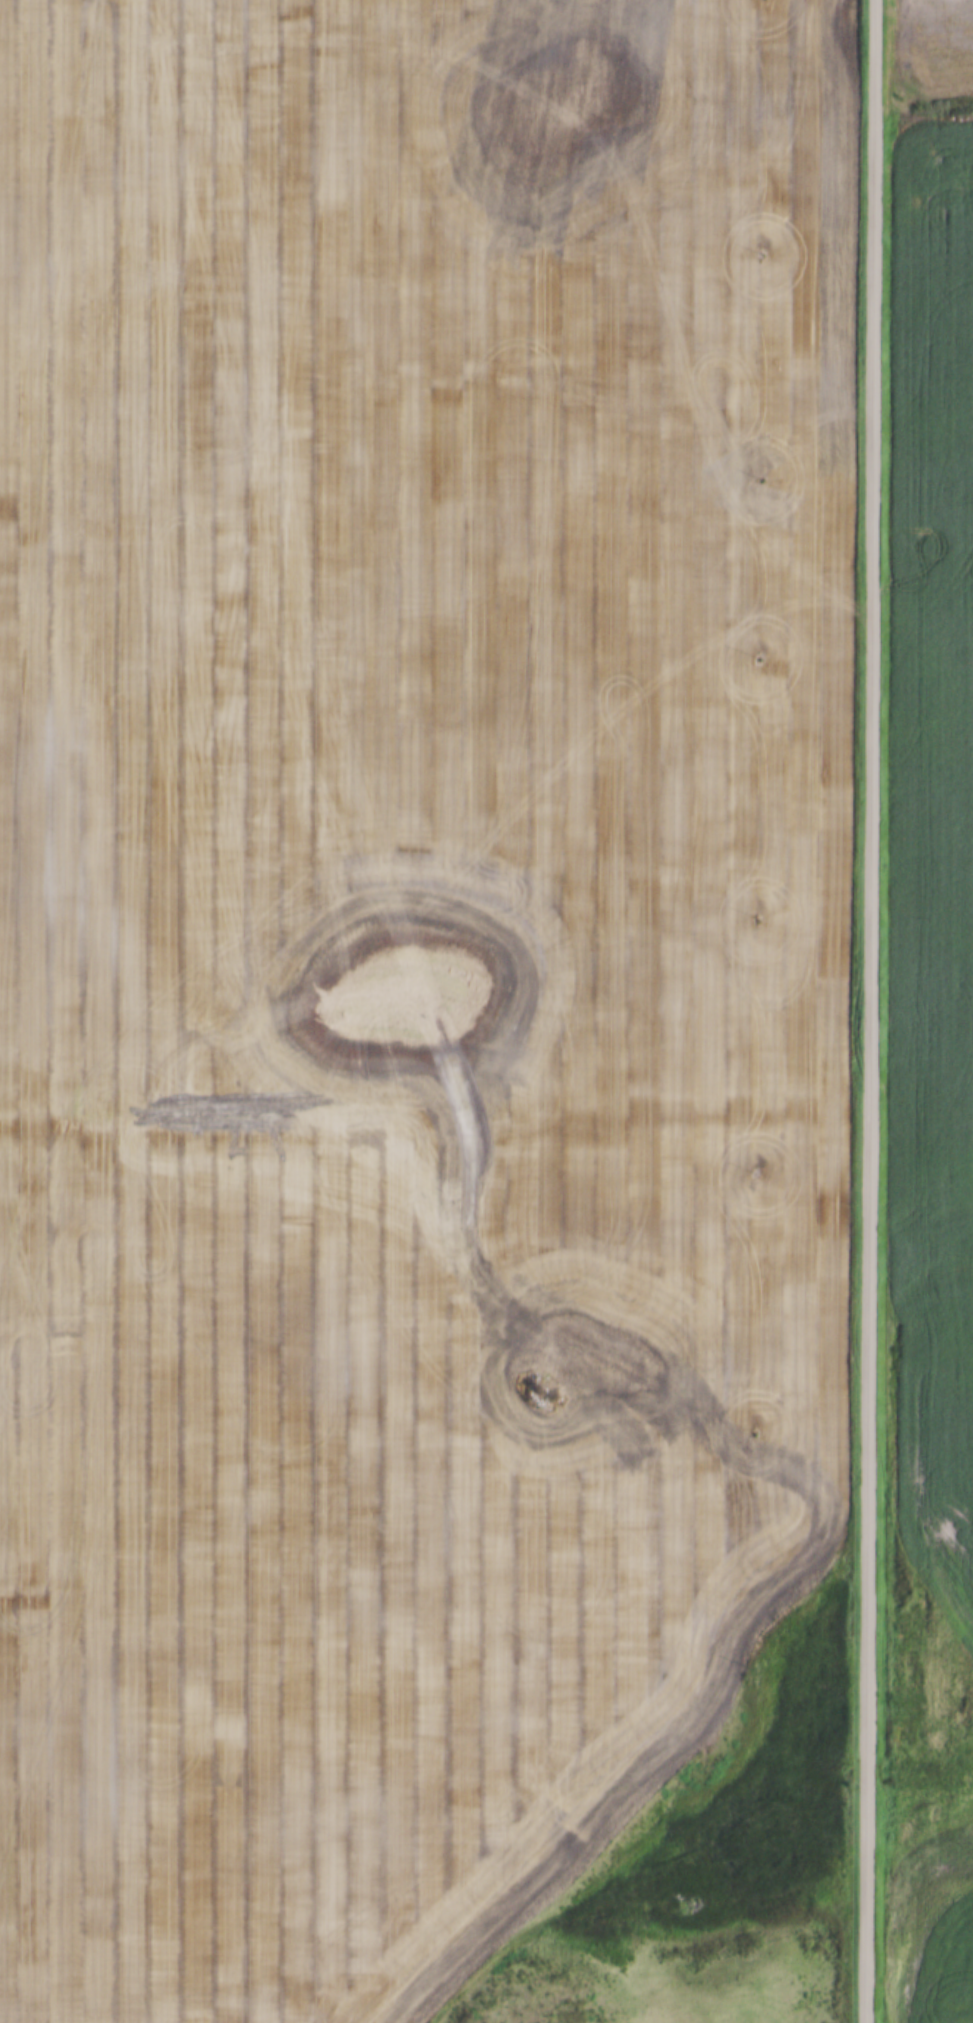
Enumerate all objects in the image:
road: (870, 1011)

